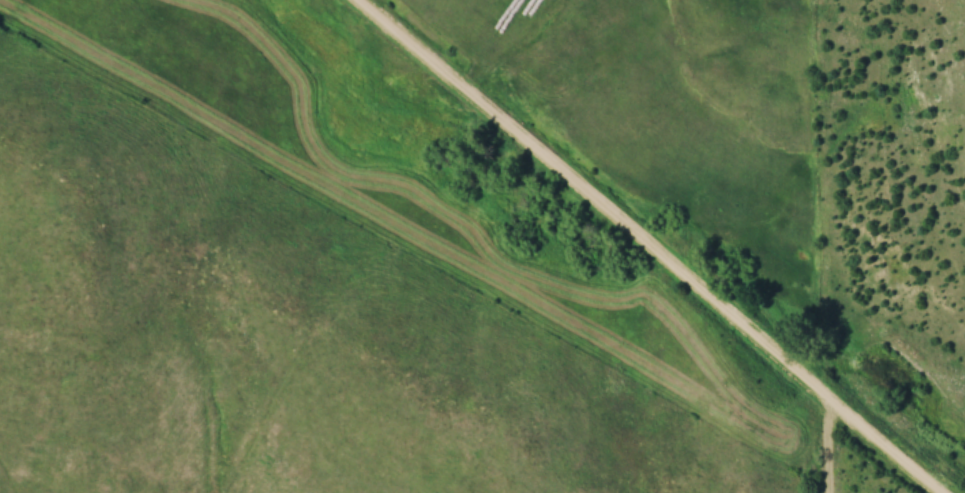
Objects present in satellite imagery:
road: (645, 245)
road: (830, 450)

